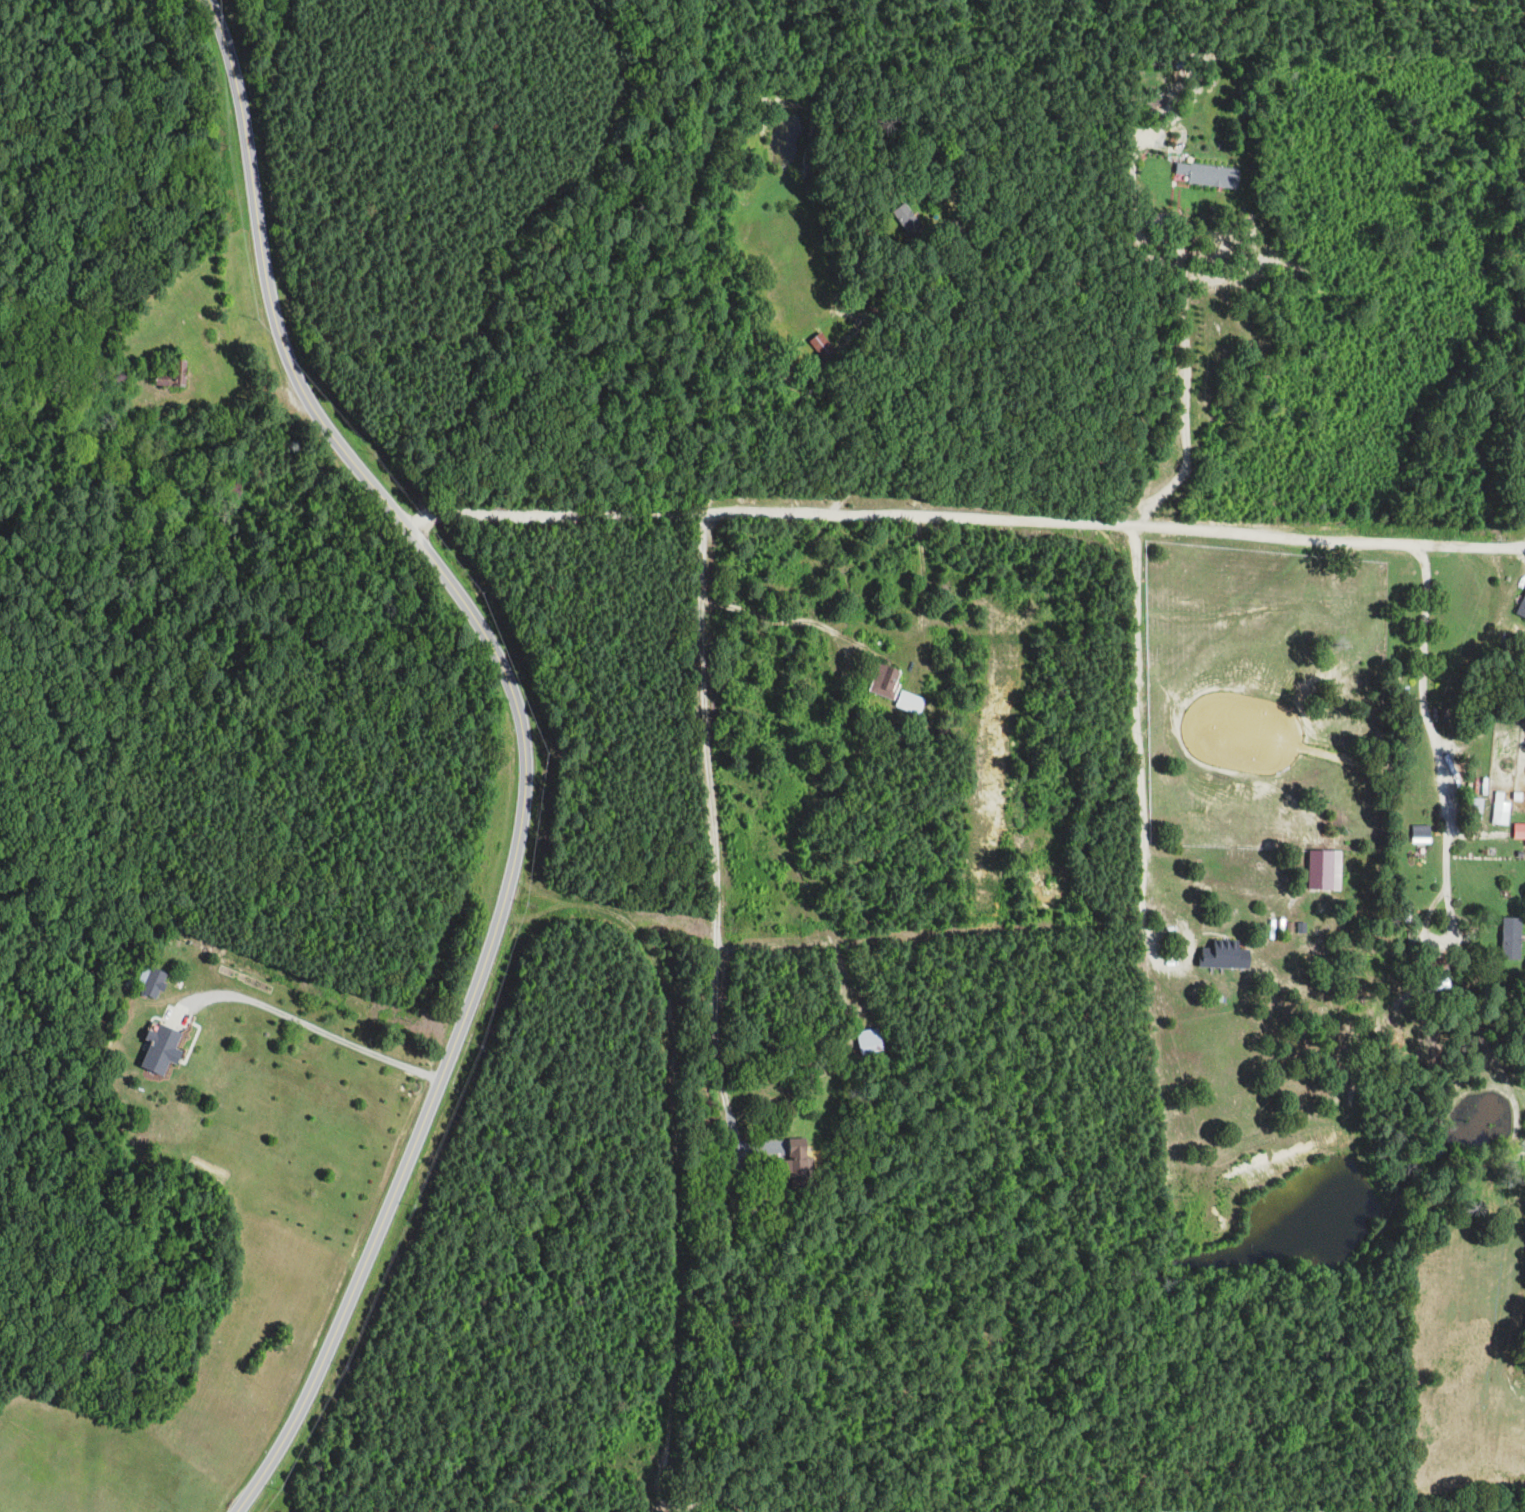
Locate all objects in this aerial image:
building: (1209, 174)
road: (937, 369)
building: (230, 490)
road: (957, 516)
road: (1137, 577)
building: (1522, 607)
road: (872, 644)
building: (885, 680)
building: (910, 701)
road: (528, 743)
road: (1437, 778)
building: (1501, 808)
building: (1520, 830)
building: (1420, 833)
road: (711, 851)
building: (1325, 868)
building: (1512, 938)
building: (1227, 955)
building: (153, 982)
road: (315, 1030)
building: (869, 1040)
building: (163, 1049)
building: (796, 1162)

